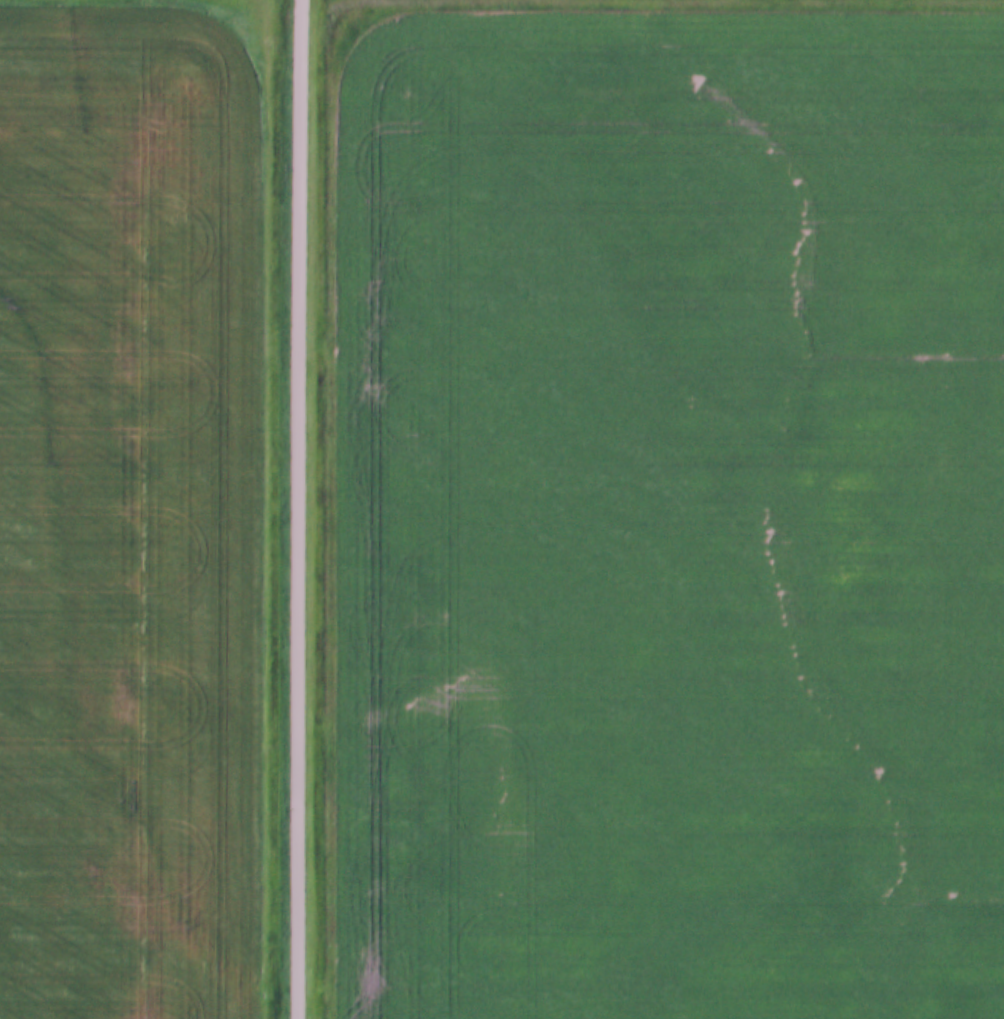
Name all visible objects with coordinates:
crop: (668, 520)

